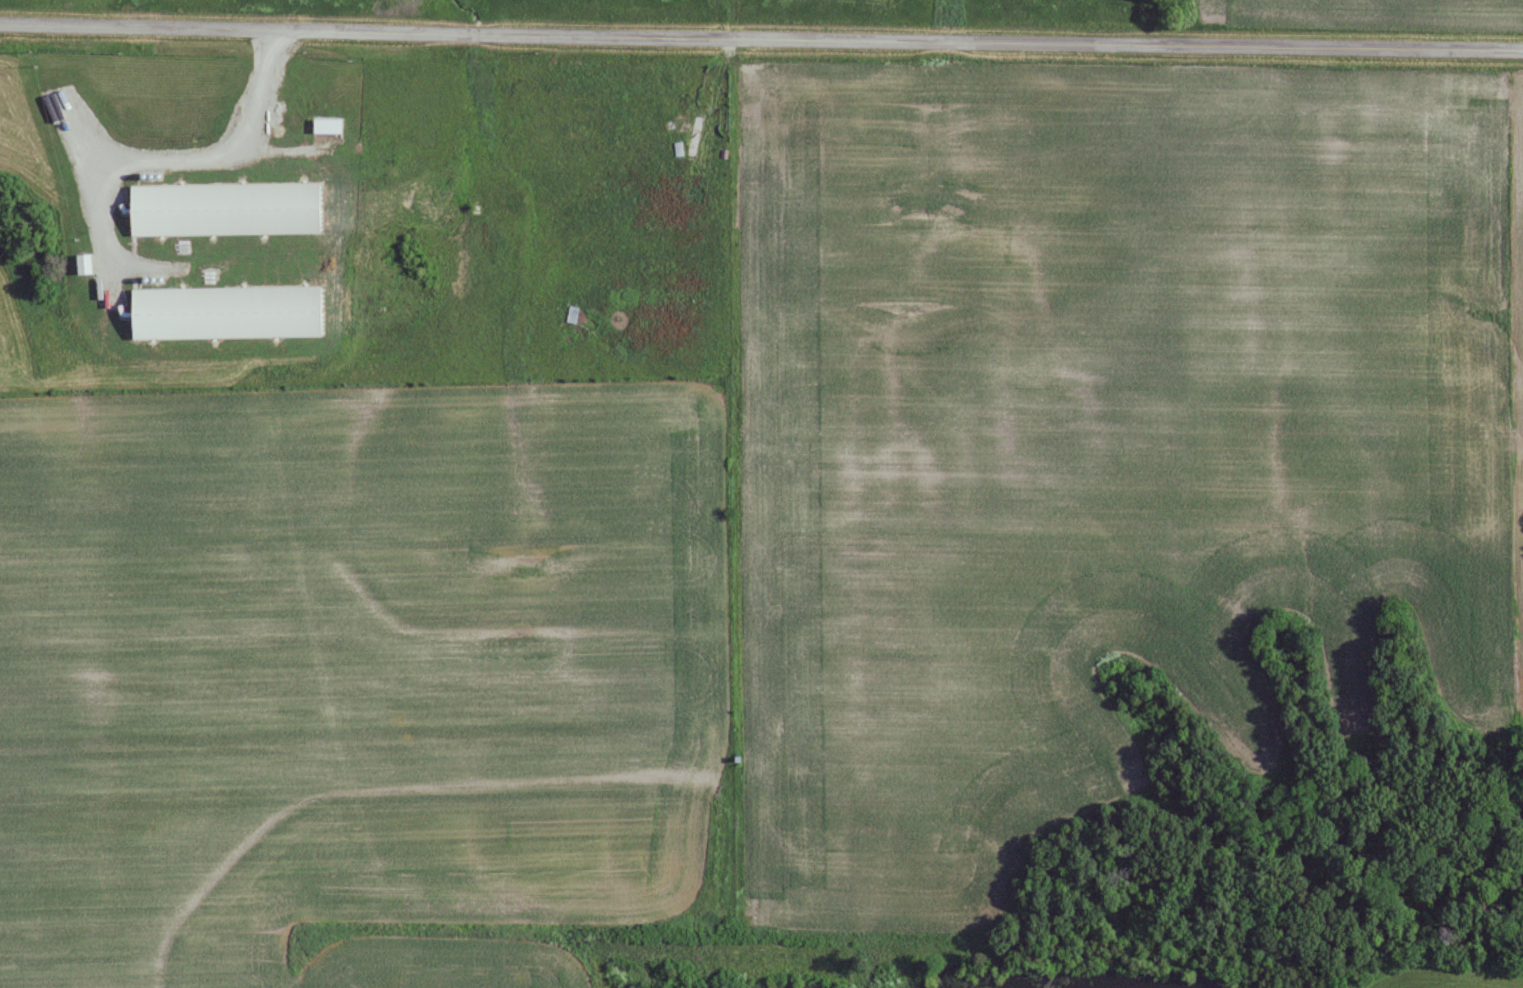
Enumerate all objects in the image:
road: (761, 37)
building: (481, 236)

